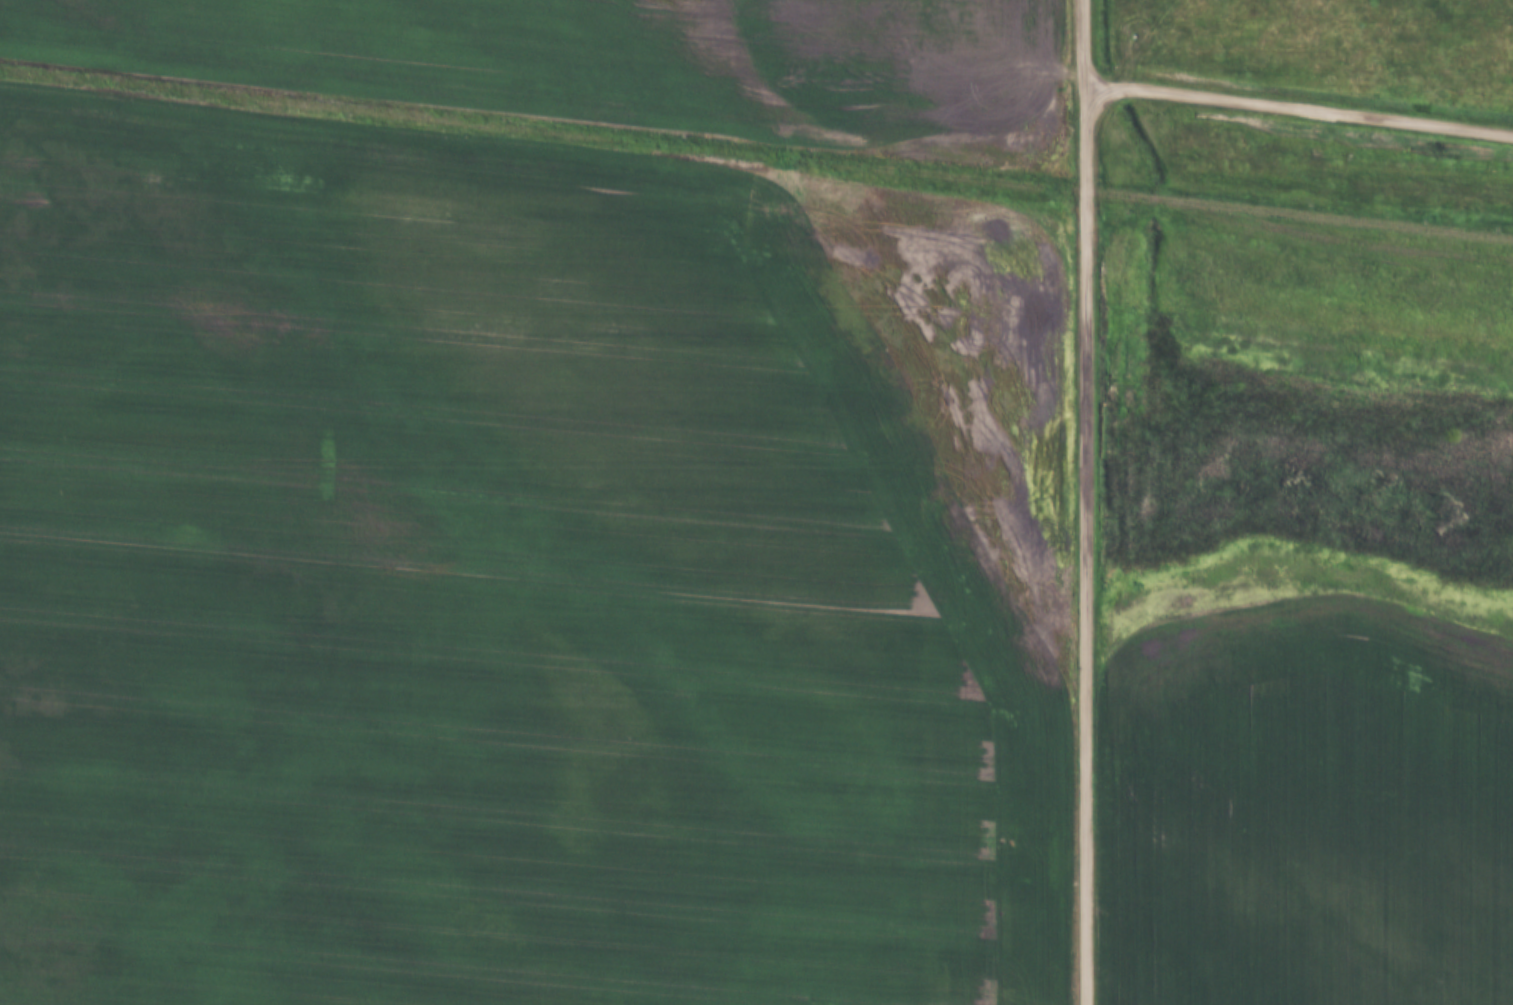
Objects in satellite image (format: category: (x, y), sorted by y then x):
road: (1298, 103)
road: (1086, 502)

